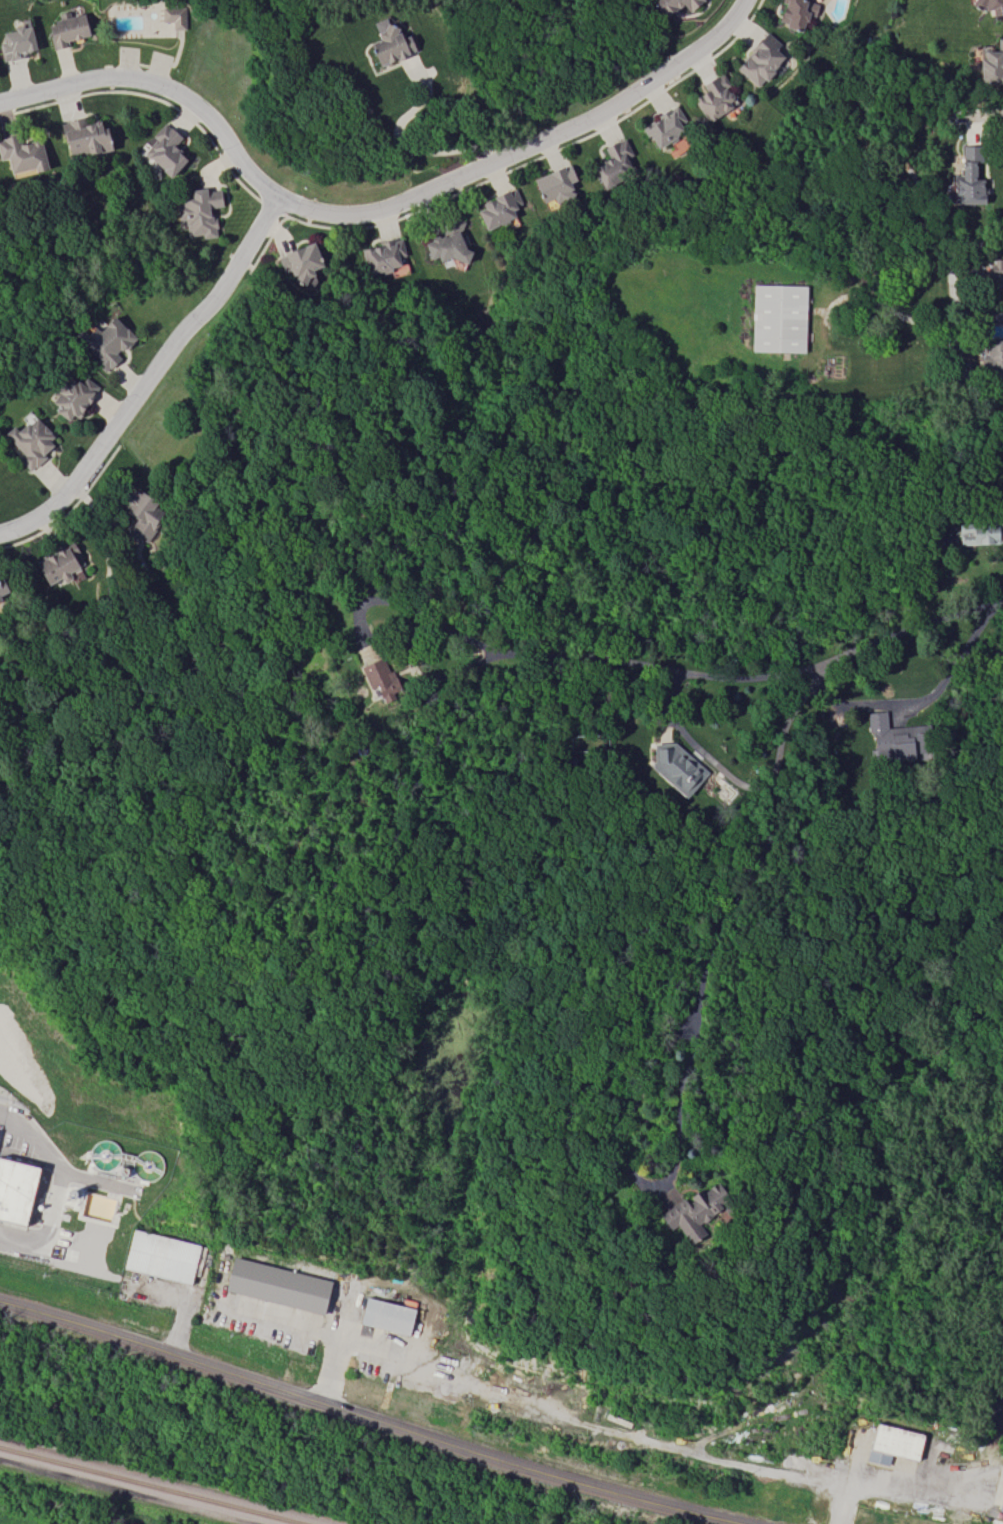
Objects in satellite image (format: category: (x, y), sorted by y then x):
building: (673, 5)
building: (990, 6)
building: (795, 13)
building: (173, 17)
building: (66, 30)
building: (17, 41)
building: (389, 44)
building: (760, 60)
building: (992, 64)
road: (159, 87)
building: (714, 98)
road: (974, 113)
building: (665, 126)
building: (84, 138)
road: (520, 143)
road: (408, 145)
building: (164, 150)
building: (22, 155)
building: (613, 163)
building: (969, 173)
building: (497, 209)
building: (199, 212)
building: (447, 243)
building: (382, 256)
building: (301, 261)
road: (954, 267)
building: (995, 272)
road: (896, 314)
building: (778, 318)
building: (107, 342)
building: (992, 360)
road: (147, 373)
road: (959, 377)
building: (73, 395)
building: (30, 442)
road: (966, 492)
building: (140, 513)
building: (978, 532)
building: (58, 564)
building: (2, 588)
road: (556, 655)
building: (380, 677)
road: (923, 698)
building: (896, 737)
road: (695, 745)
road: (776, 747)
building: (676, 767)
road: (635, 1179)
road: (54, 1186)
building: (15, 1189)
building: (694, 1210)
building: (159, 1256)
building: (276, 1285)
building: (385, 1316)
road: (281, 1324)
road: (558, 1417)
road: (368, 1419)
building: (890, 1444)
railway: (153, 1485)
road: (891, 1487)
building: (1000, 1501)

